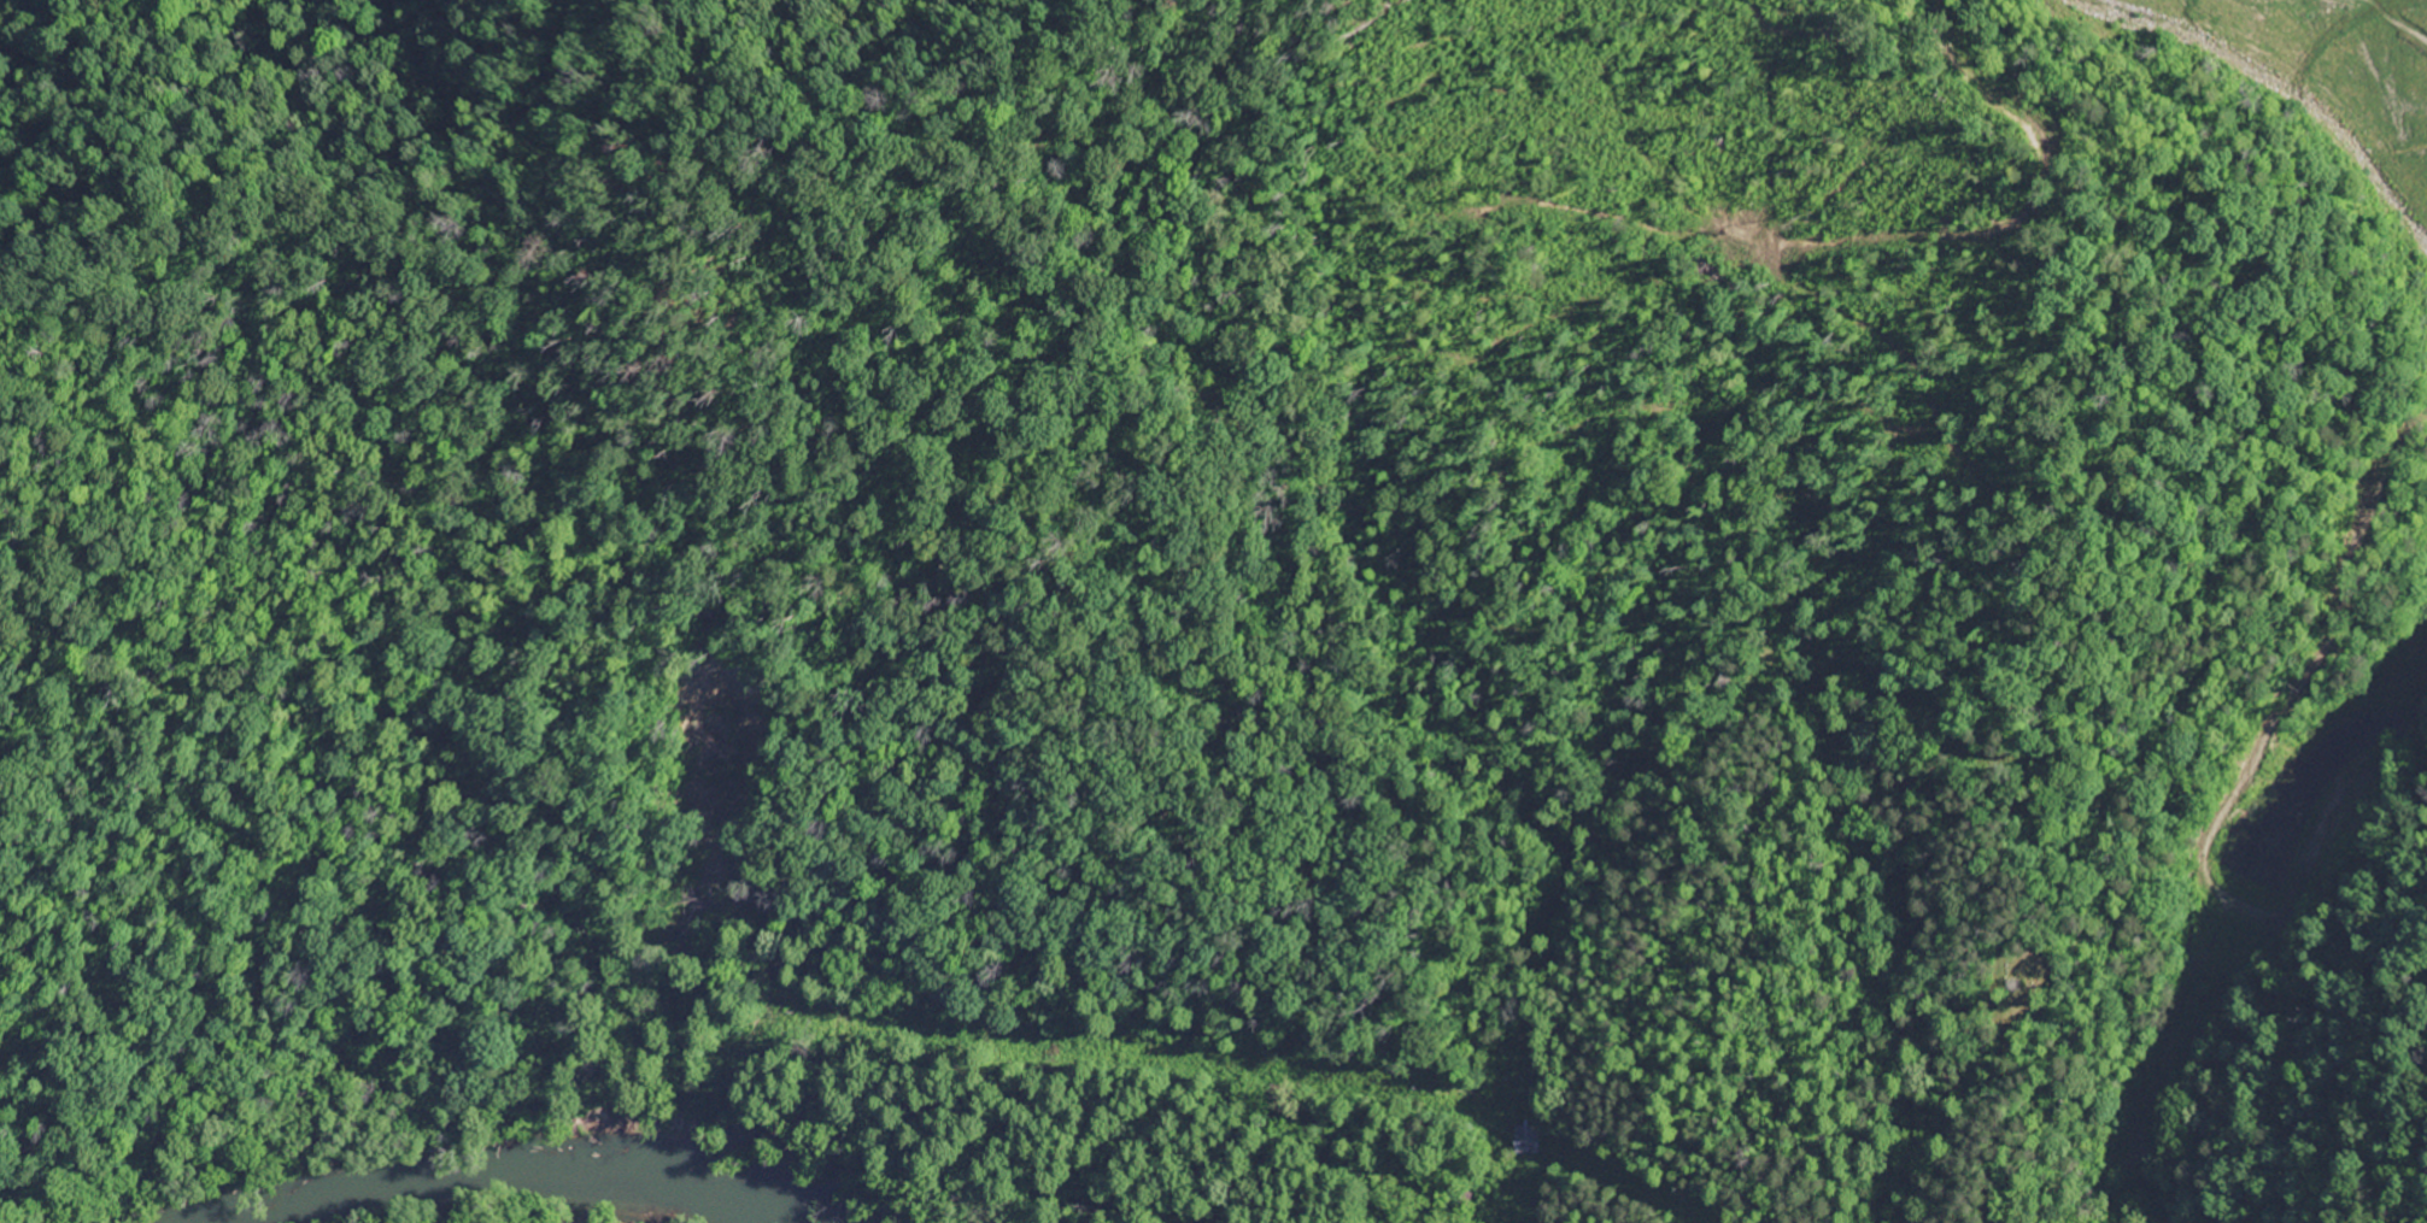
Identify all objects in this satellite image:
quarry: (2300, 88)
building: (1526, 1141)
river: (561, 1175)

